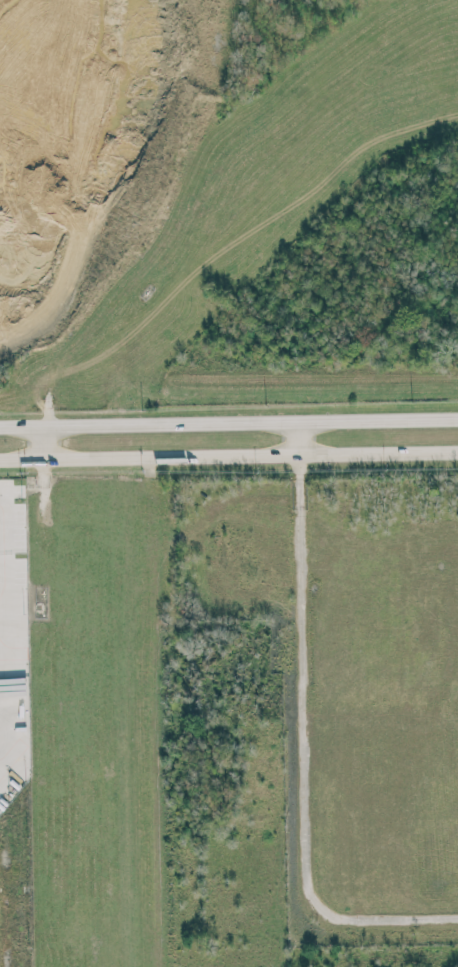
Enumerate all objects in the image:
road: (229, 422)
road: (297, 437)
road: (46, 442)
road: (228, 455)
road: (3, 607)
road: (444, 635)
road: (381, 717)
road: (304, 755)

